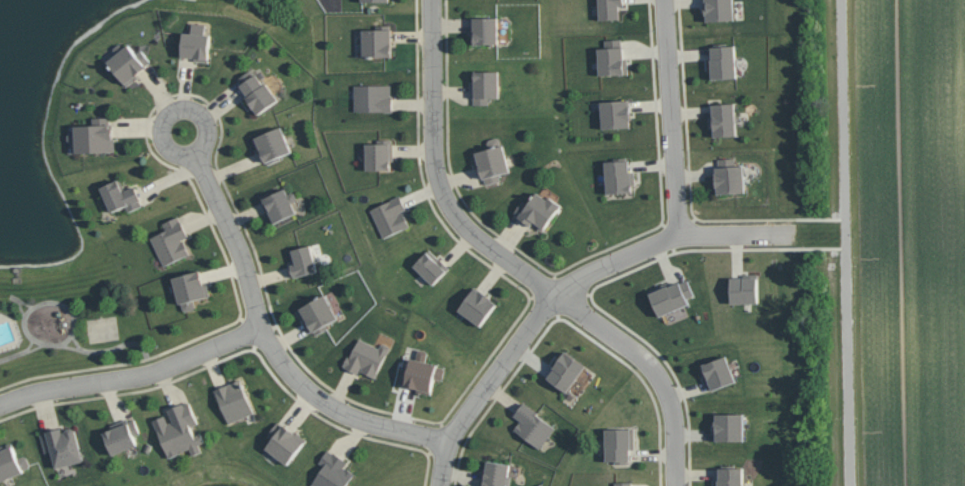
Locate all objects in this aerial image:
building: (375, 0)
building: (609, 8)
building: (719, 9)
building: (484, 30)
building: (378, 41)
building: (196, 43)
building: (612, 58)
building: (128, 62)
building: (723, 62)
building: (485, 86)
building: (257, 91)
building: (373, 98)
building: (615, 113)
road: (671, 118)
building: (724, 119)
building: (94, 136)
building: (273, 144)
building: (380, 155)
building: (492, 161)
road: (437, 173)
building: (729, 176)
building: (619, 177)
building: (121, 195)
building: (279, 205)
building: (538, 210)
building: (390, 216)
road: (757, 218)
road: (704, 235)
building: (171, 241)
road: (841, 243)
road: (701, 254)
building: (302, 260)
building: (431, 266)
road: (246, 281)
building: (190, 288)
building: (744, 288)
building: (671, 296)
road: (21, 300)
building: (477, 306)
road: (21, 307)
road: (72, 313)
building: (317, 313)
park: (102, 328)
road: (29, 344)
road: (71, 346)
road: (109, 347)
road: (22, 351)
building: (366, 357)
road: (505, 358)
road: (131, 361)
road: (651, 369)
building: (566, 371)
building: (717, 372)
building: (421, 373)
road: (132, 375)
building: (233, 400)
building: (532, 425)
building: (729, 426)
building: (179, 430)
building: (122, 435)
building: (284, 441)
building: (618, 444)
building: (63, 446)
building: (11, 463)
building: (333, 471)
building: (496, 474)
building: (730, 476)
building: (622, 483)

